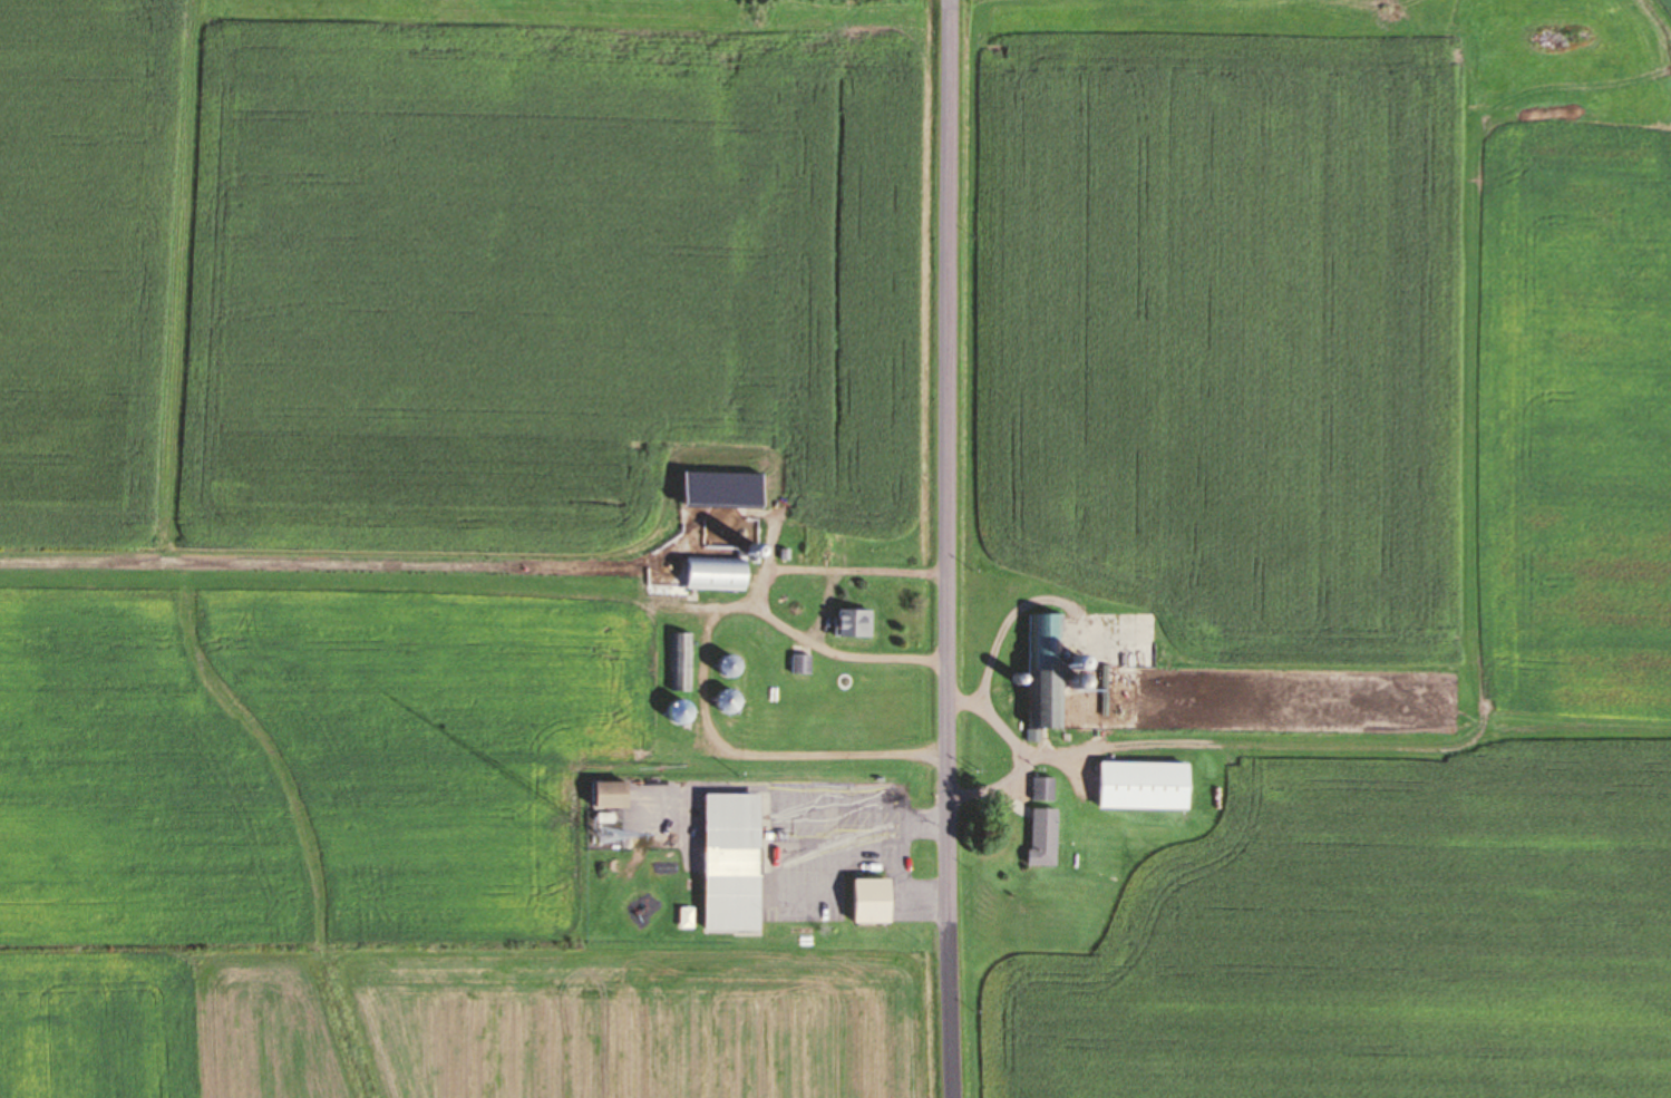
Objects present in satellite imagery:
road: (951, 548)
building: (717, 573)
building: (854, 622)
building: (682, 661)
building: (803, 663)
building: (730, 665)
building: (1046, 677)
building: (728, 700)
building: (1144, 786)
building: (1045, 837)
building: (732, 862)
building: (871, 901)

